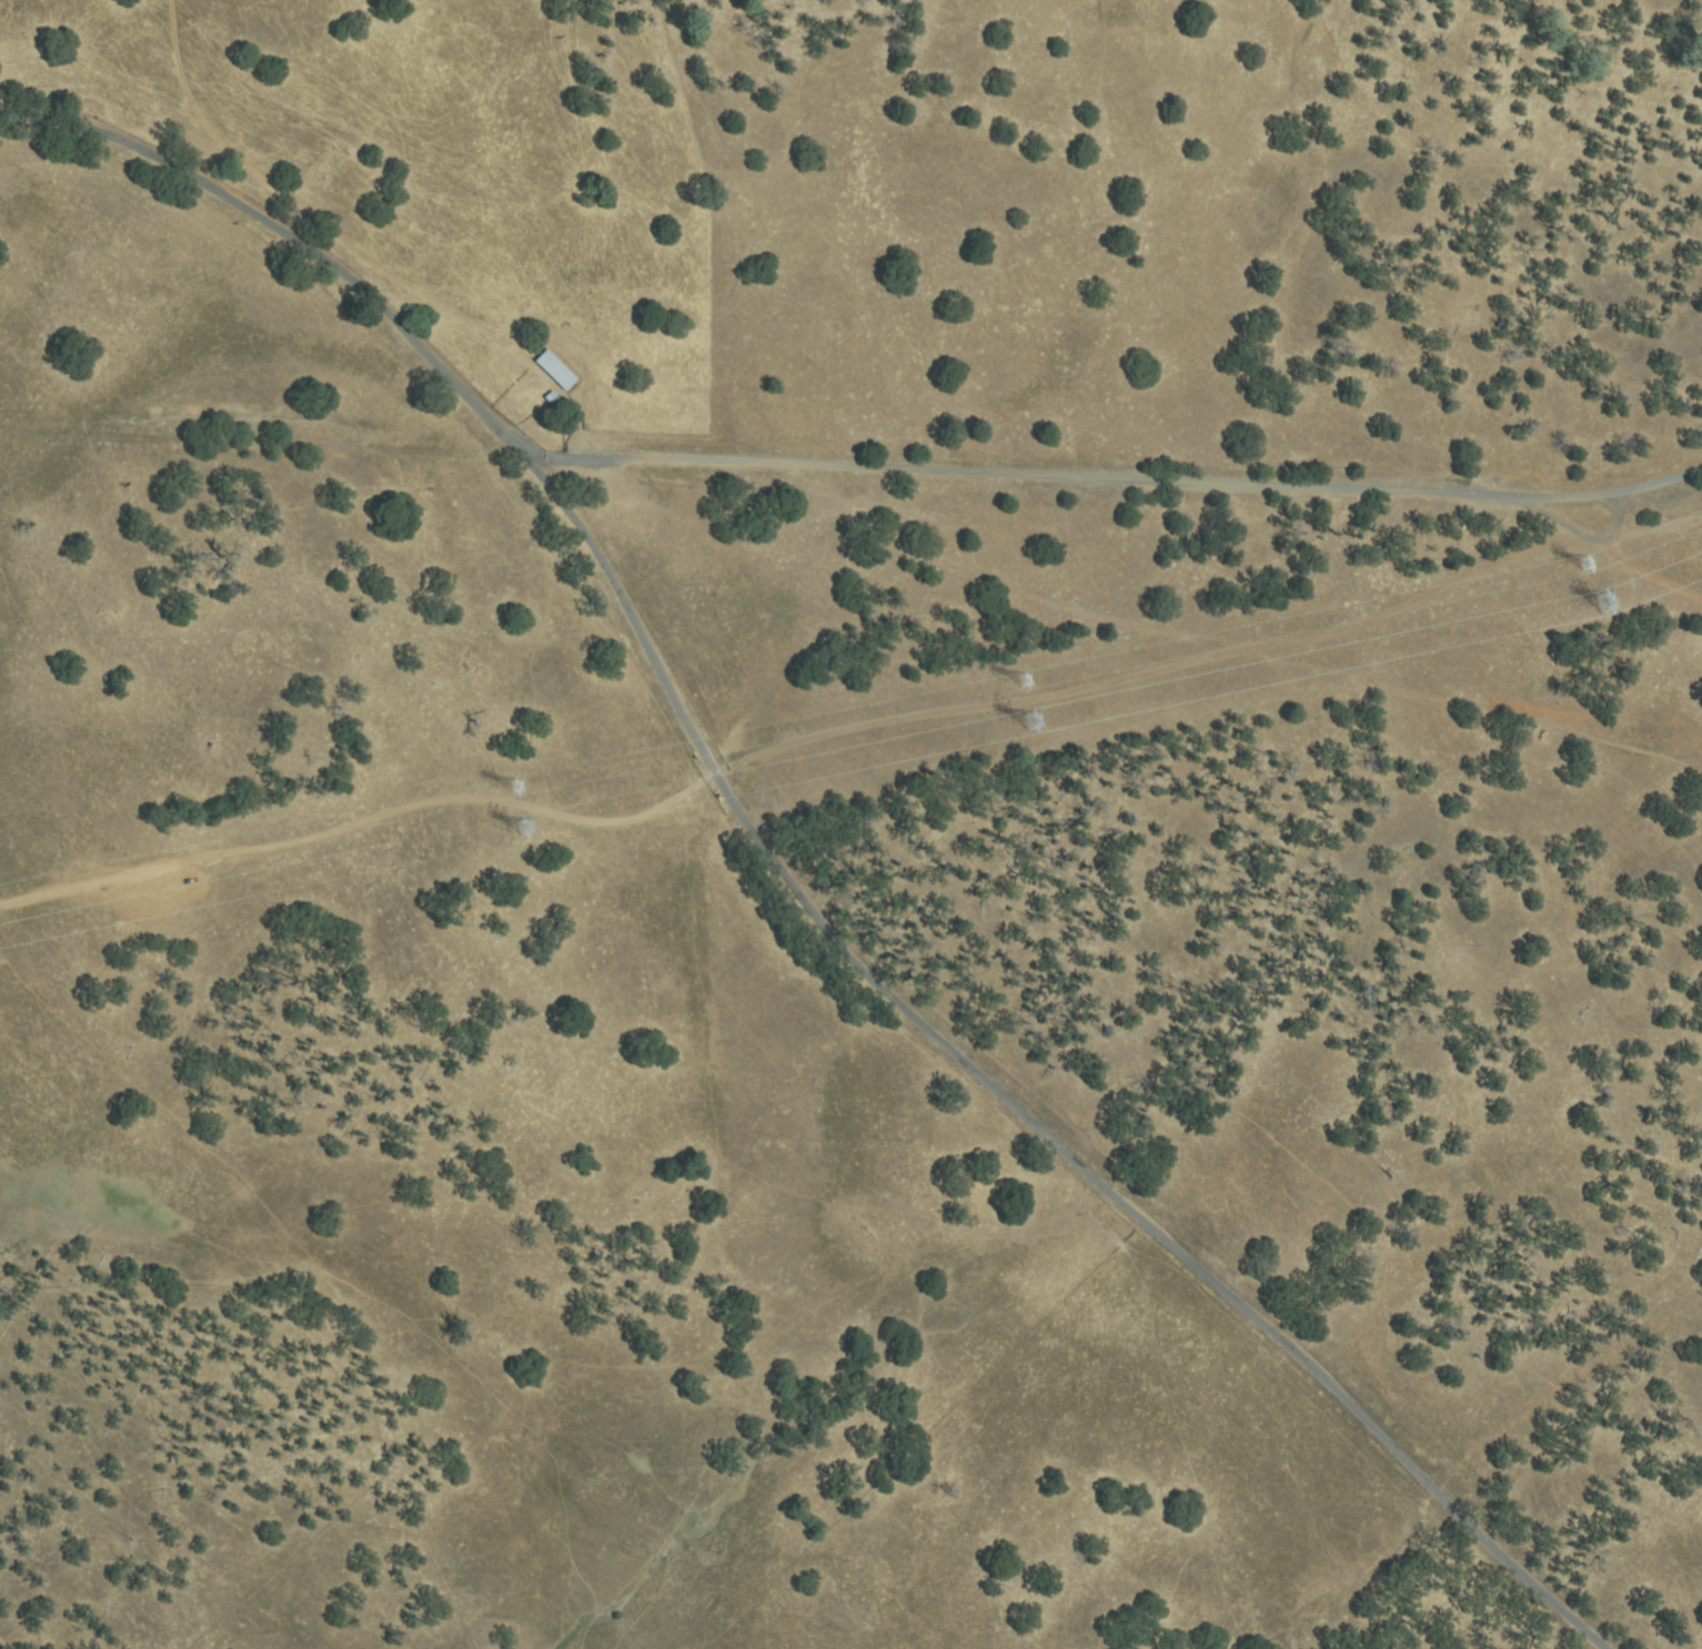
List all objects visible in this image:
road: (244, 148)
building: (557, 371)
building: (554, 401)
road: (1117, 479)
power tower: (1584, 566)
building: (1612, 600)
power tower: (1603, 606)
power tower: (1023, 684)
power tower: (1033, 725)
road: (847, 729)
power tower: (517, 789)
power tower: (522, 832)
road: (789, 869)

